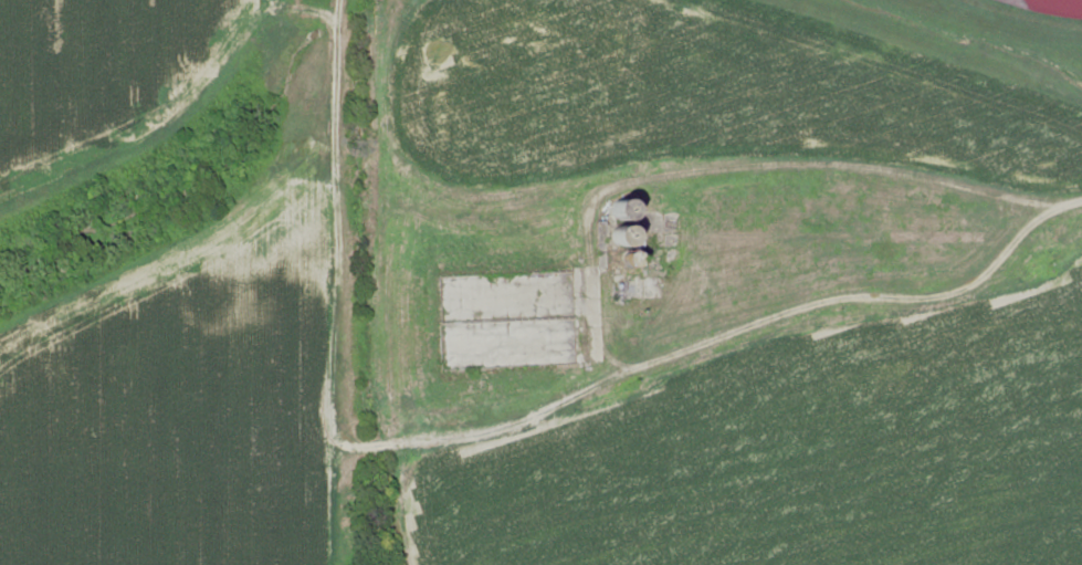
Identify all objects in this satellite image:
road: (521, 389)

